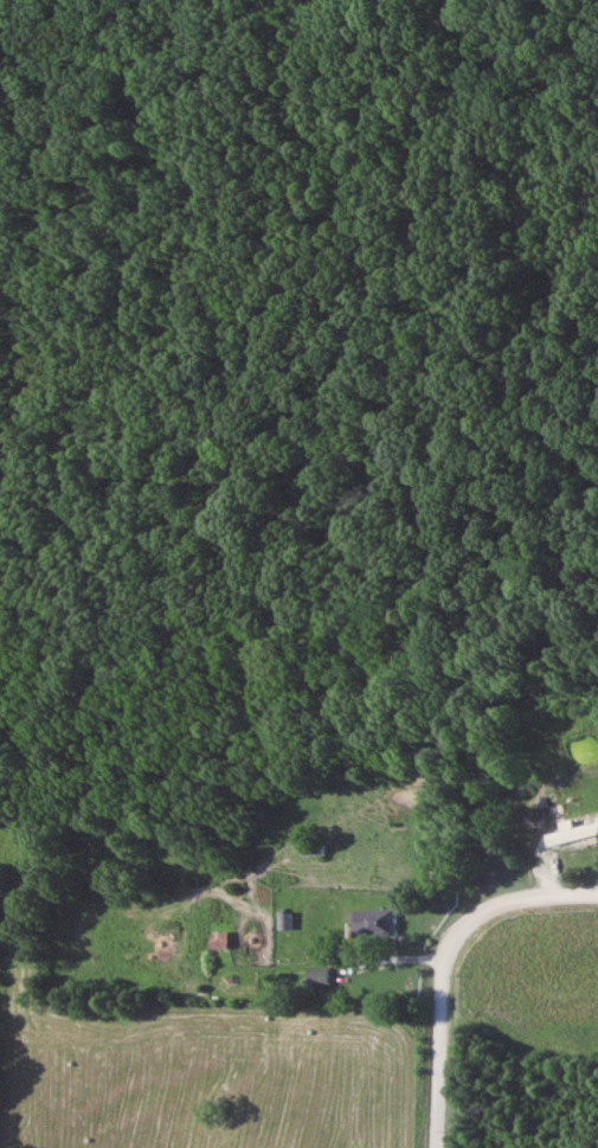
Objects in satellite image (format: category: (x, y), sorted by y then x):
building: (576, 835)
road: (503, 903)
building: (381, 922)
road: (438, 1057)

